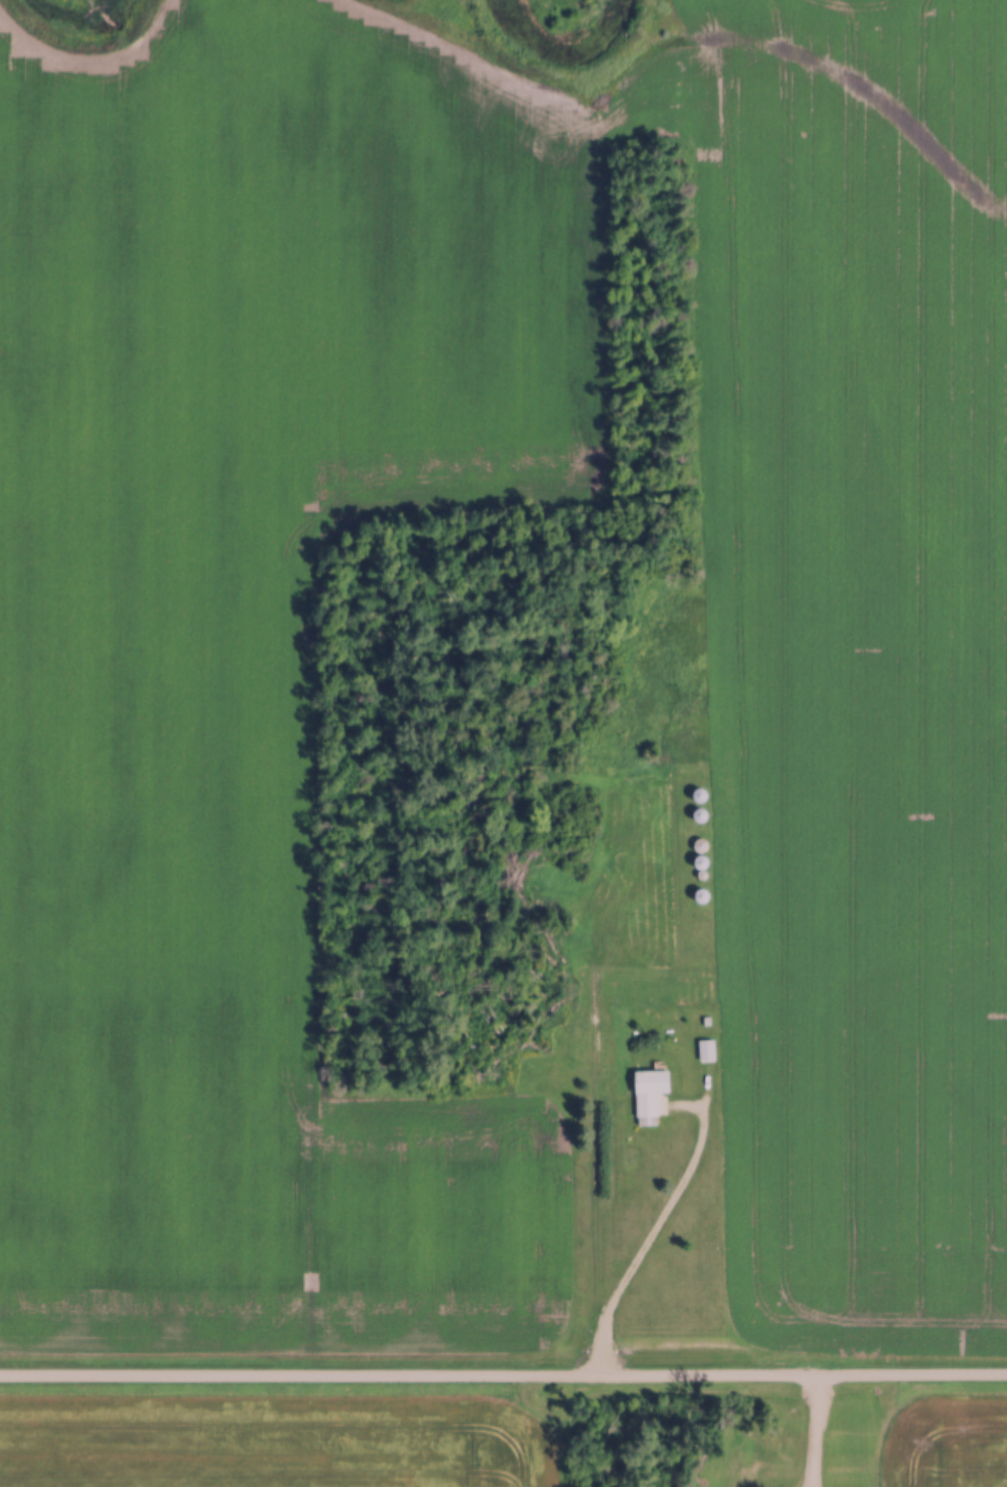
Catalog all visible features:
building: (704, 1049)
building: (646, 1094)
road: (655, 1228)
road: (503, 1377)
road: (816, 1431)
building: (771, 1478)

